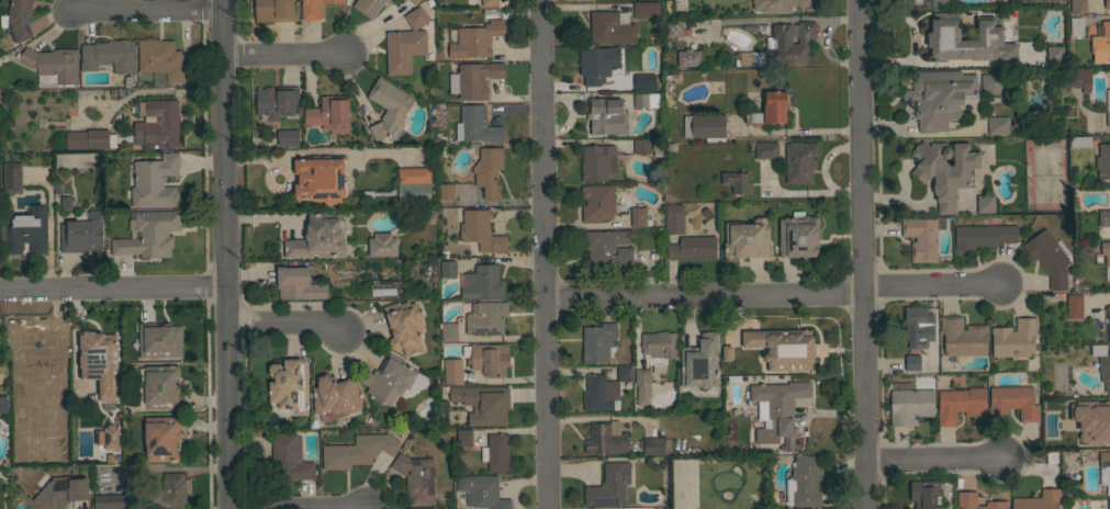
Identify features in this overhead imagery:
building: (408, 1)
building: (415, 1)
building: (489, 2)
building: (942, 2)
building: (1107, 3)
building: (777, 4)
building: (1077, 5)
building: (369, 7)
building: (313, 8)
building: (274, 10)
building: (646, 10)
road: (142, 11)
building: (18, 20)
building: (1076, 26)
building: (610, 27)
building: (674, 27)
building: (756, 27)
building: (474, 39)
building: (966, 39)
building: (405, 43)
building: (791, 43)
building: (1102, 43)
building: (109, 55)
building: (1054, 55)
building: (687, 57)
building: (160, 58)
road: (282, 58)
building: (750, 58)
building: (597, 64)
building: (52, 65)
building: (473, 79)
building: (1074, 79)
building: (643, 81)
building: (991, 82)
building: (670, 84)
building: (939, 97)
building: (644, 100)
building: (276, 102)
building: (1108, 108)
building: (389, 109)
building: (770, 110)
building: (328, 114)
building: (607, 116)
building: (745, 118)
building: (158, 123)
building: (475, 125)
building: (997, 125)
building: (704, 126)
building: (288, 137)
building: (90, 138)
building: (1079, 142)
building: (641, 145)
building: (765, 149)
road: (314, 150)
building: (798, 161)
building: (1102, 161)
building: (597, 162)
building: (487, 170)
building: (945, 170)
building: (31, 176)
building: (10, 178)
building: (319, 179)
building: (154, 181)
building: (737, 181)
building: (413, 184)
building: (446, 191)
building: (1109, 191)
building: (66, 203)
building: (597, 203)
building: (985, 203)
building: (638, 216)
building: (1103, 217)
building: (673, 219)
building: (25, 230)
building: (480, 230)
building: (81, 231)
building: (147, 234)
building: (798, 236)
building: (982, 236)
building: (922, 237)
building: (318, 238)
building: (745, 238)
building: (381, 244)
building: (606, 246)
building: (692, 248)
road: (55, 251)
building: (1106, 251)
road: (541, 253)
road: (860, 253)
road: (225, 255)
building: (1047, 258)
building: (448, 269)
building: (482, 283)
building: (298, 284)
road: (929, 285)
building: (383, 287)
road: (112, 290)
road: (702, 295)
building: (1074, 306)
building: (485, 317)
building: (1108, 321)
road: (285, 323)
building: (404, 326)
building: (918, 326)
building: (448, 331)
building: (35, 332)
building: (962, 337)
building: (1014, 338)
building: (159, 340)
building: (597, 342)
building: (782, 348)
building: (655, 349)
building: (720, 354)
building: (489, 359)
building: (98, 361)
building: (699, 362)
building: (911, 362)
building: (1102, 365)
building: (452, 371)
building: (624, 372)
building: (392, 381)
building: (642, 385)
building: (161, 387)
building: (288, 387)
building: (596, 393)
building: (335, 396)
building: (1013, 401)
building: (3, 404)
building: (483, 404)
building: (960, 404)
building: (1069, 405)
building: (909, 406)
building: (777, 410)
building: (1083, 437)
building: (109, 438)
building: (161, 438)
building: (464, 438)
building: (606, 439)
building: (655, 445)
building: (357, 451)
building: (496, 452)
building: (289, 457)
road: (931, 462)
building: (1105, 470)
building: (416, 478)
building: (806, 480)
building: (608, 485)
building: (61, 491)
building: (482, 491)
building: (926, 495)
building: (148, 496)
building: (966, 500)
building: (1039, 500)
building: (1108, 502)
building: (422, 508)

